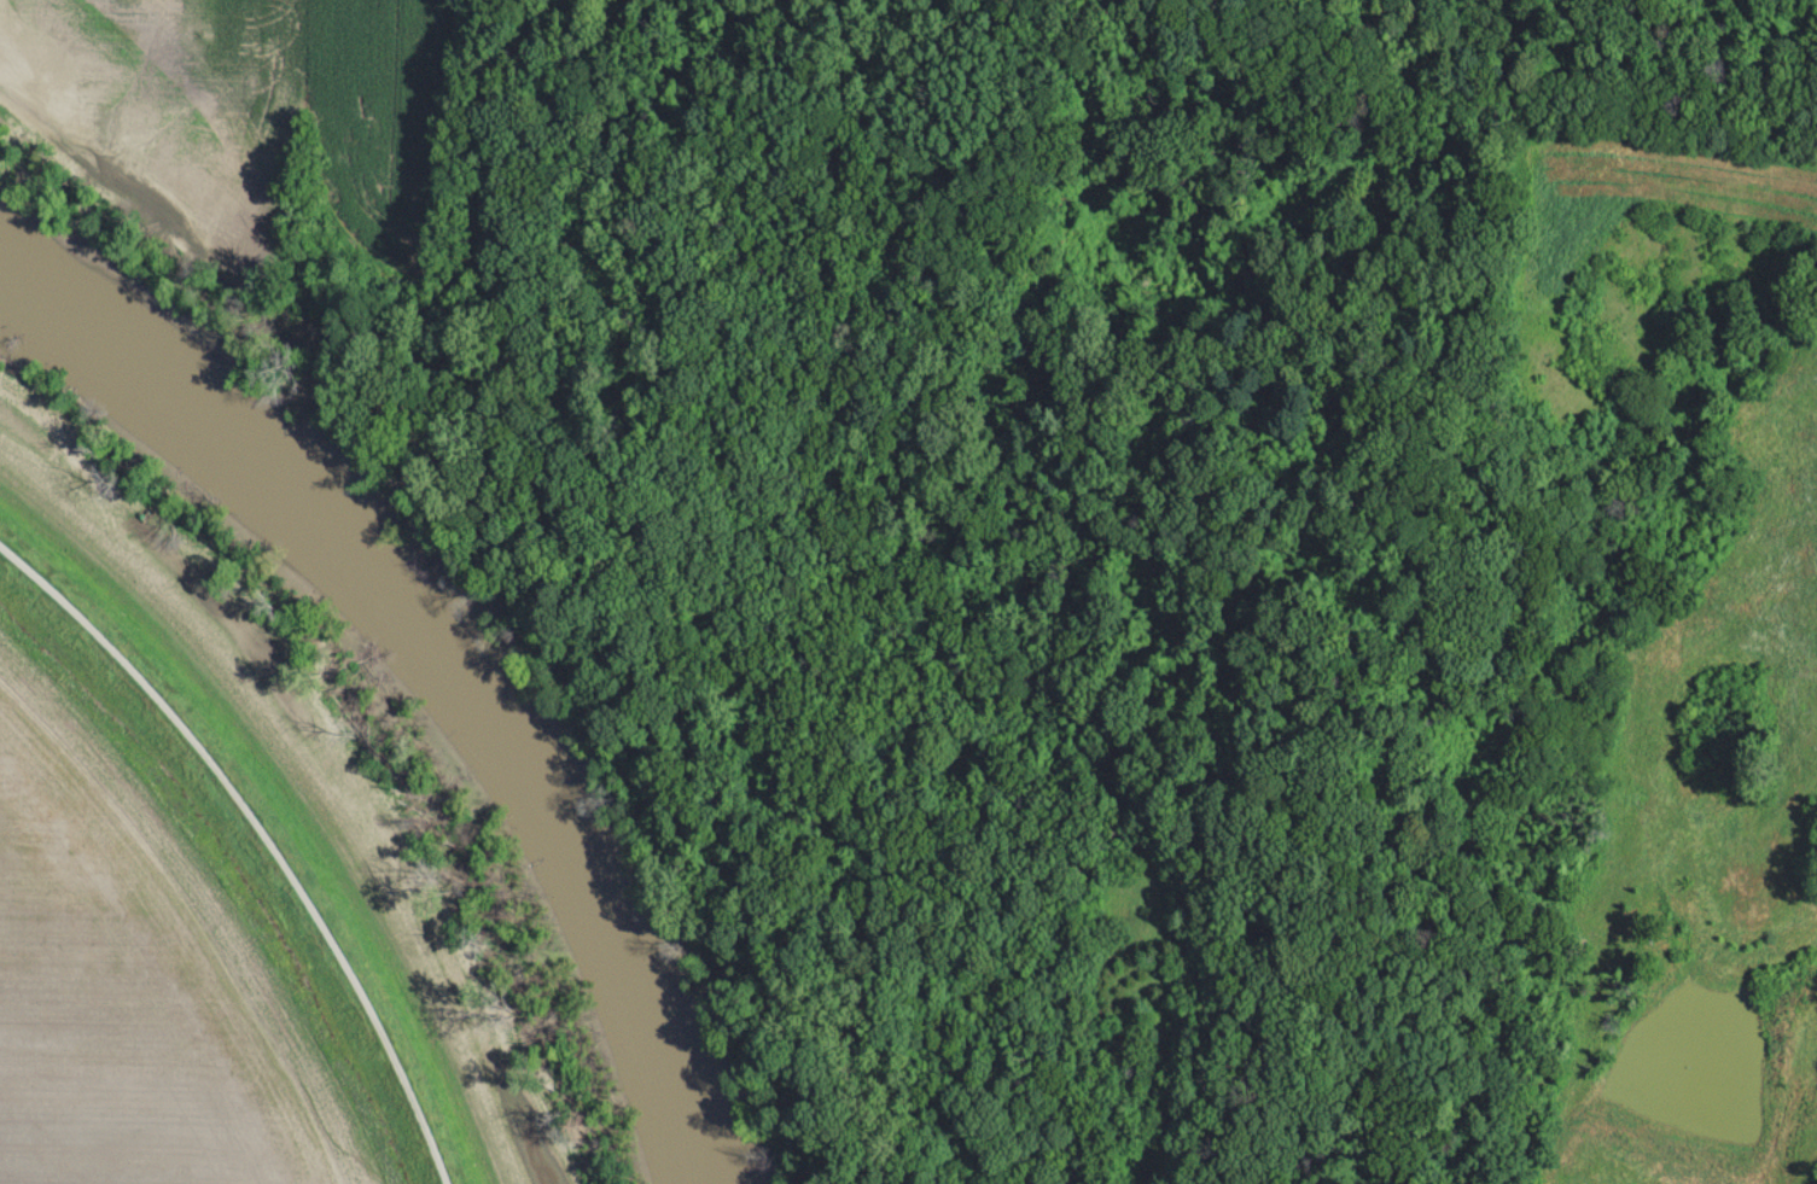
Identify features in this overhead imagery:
river: (432, 669)
road: (266, 830)

